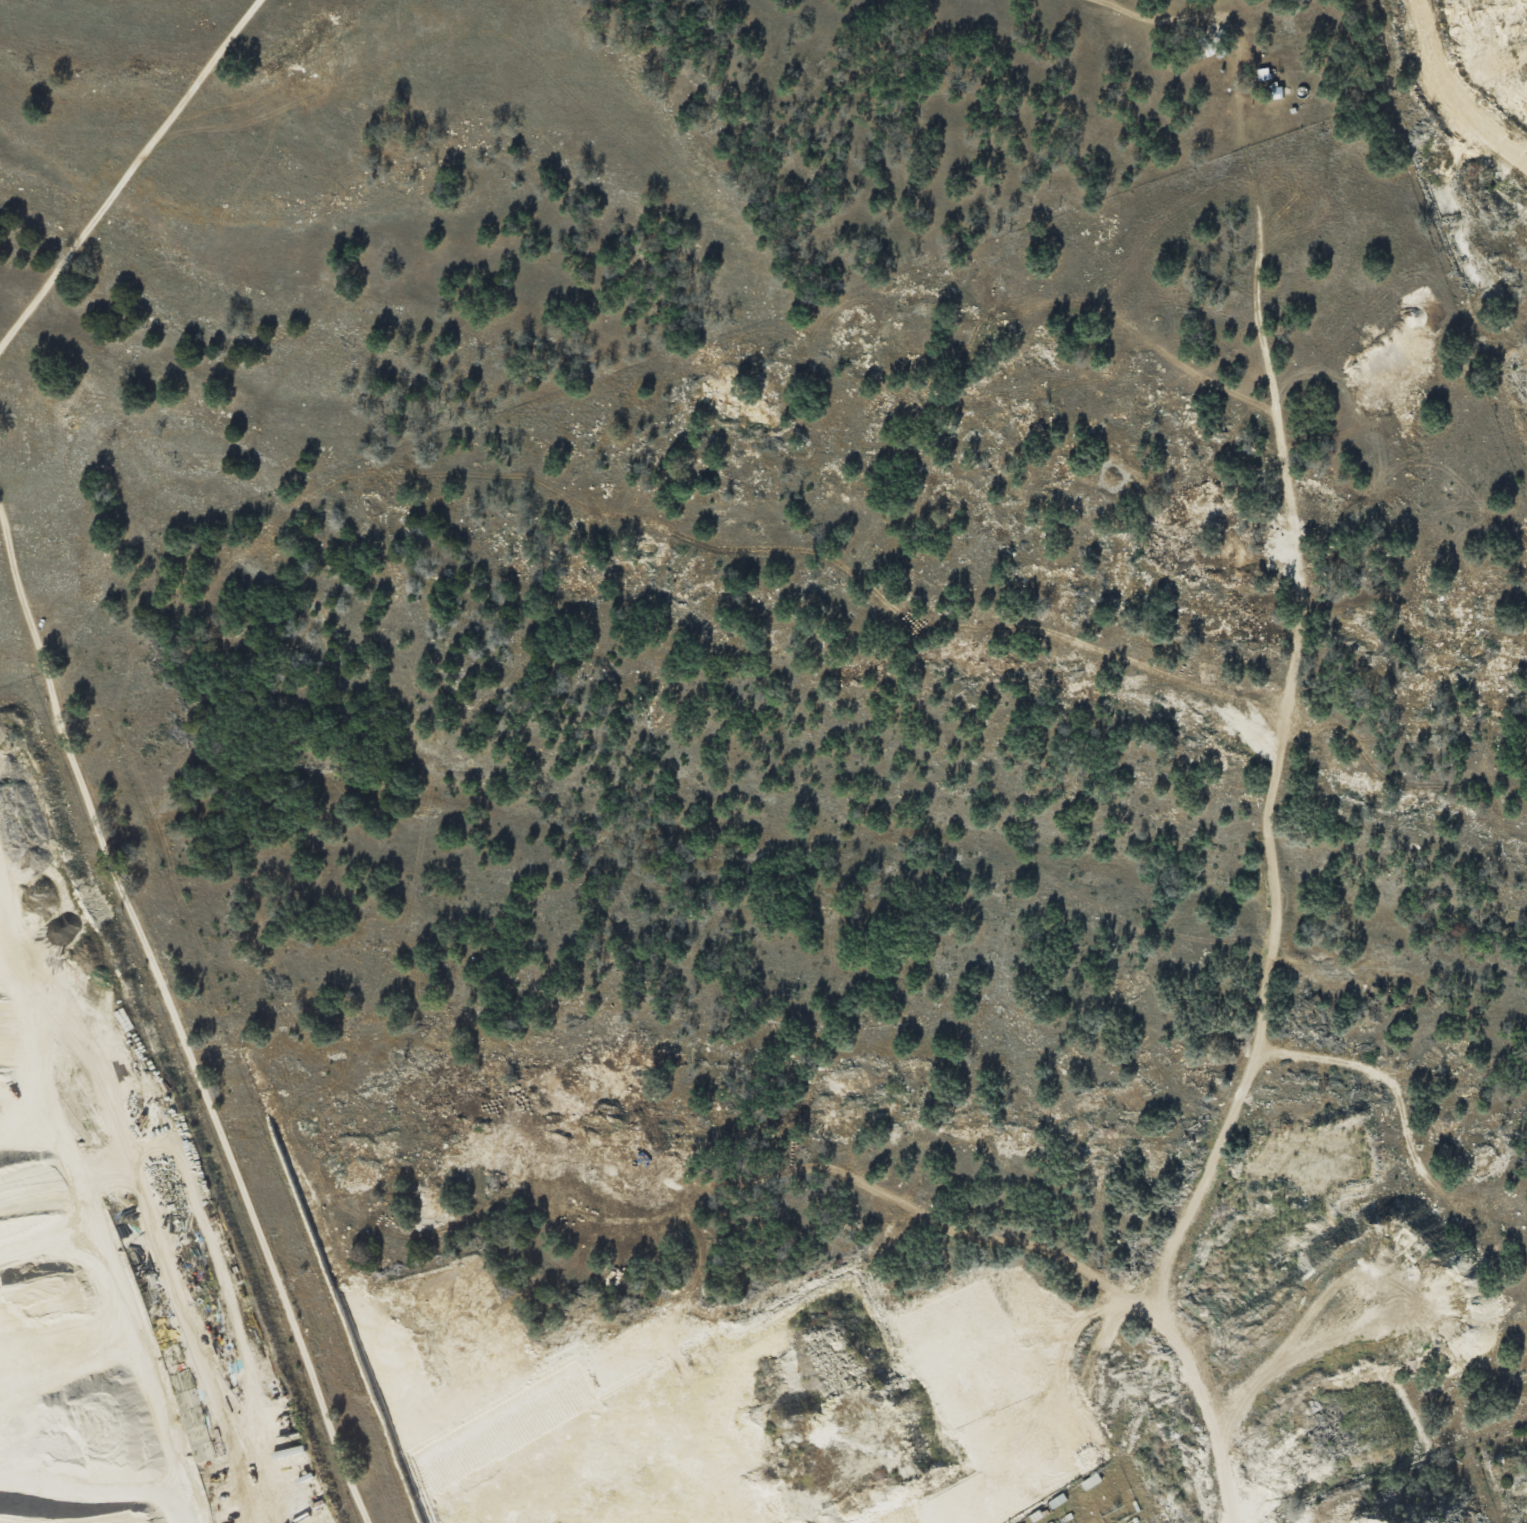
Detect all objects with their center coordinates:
road: (1122, 9)
road: (126, 173)
road: (175, 1015)
quarry: (114, 1316)
quarry: (1013, 1360)

